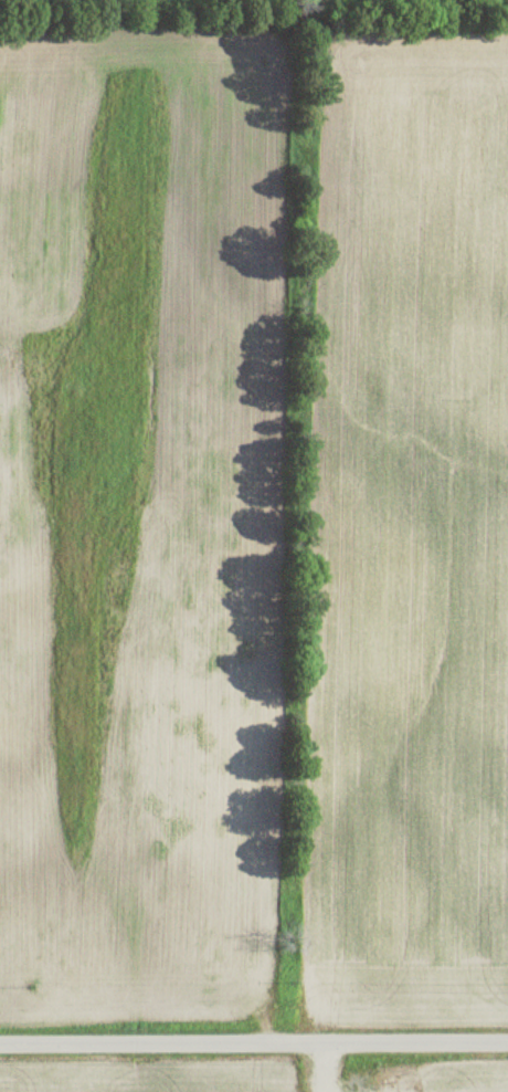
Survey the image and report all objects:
road: (254, 1046)

